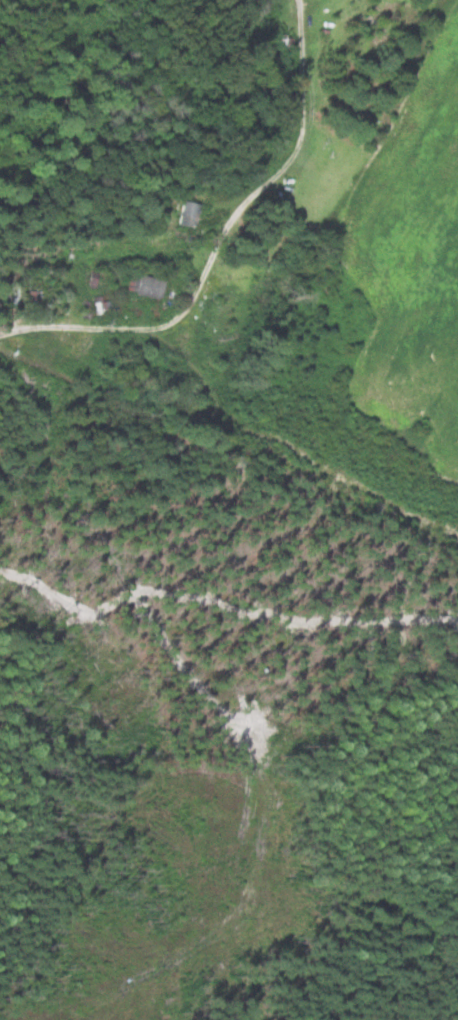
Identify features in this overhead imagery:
building: (186, 215)
road: (226, 246)
building: (29, 251)
building: (145, 286)

